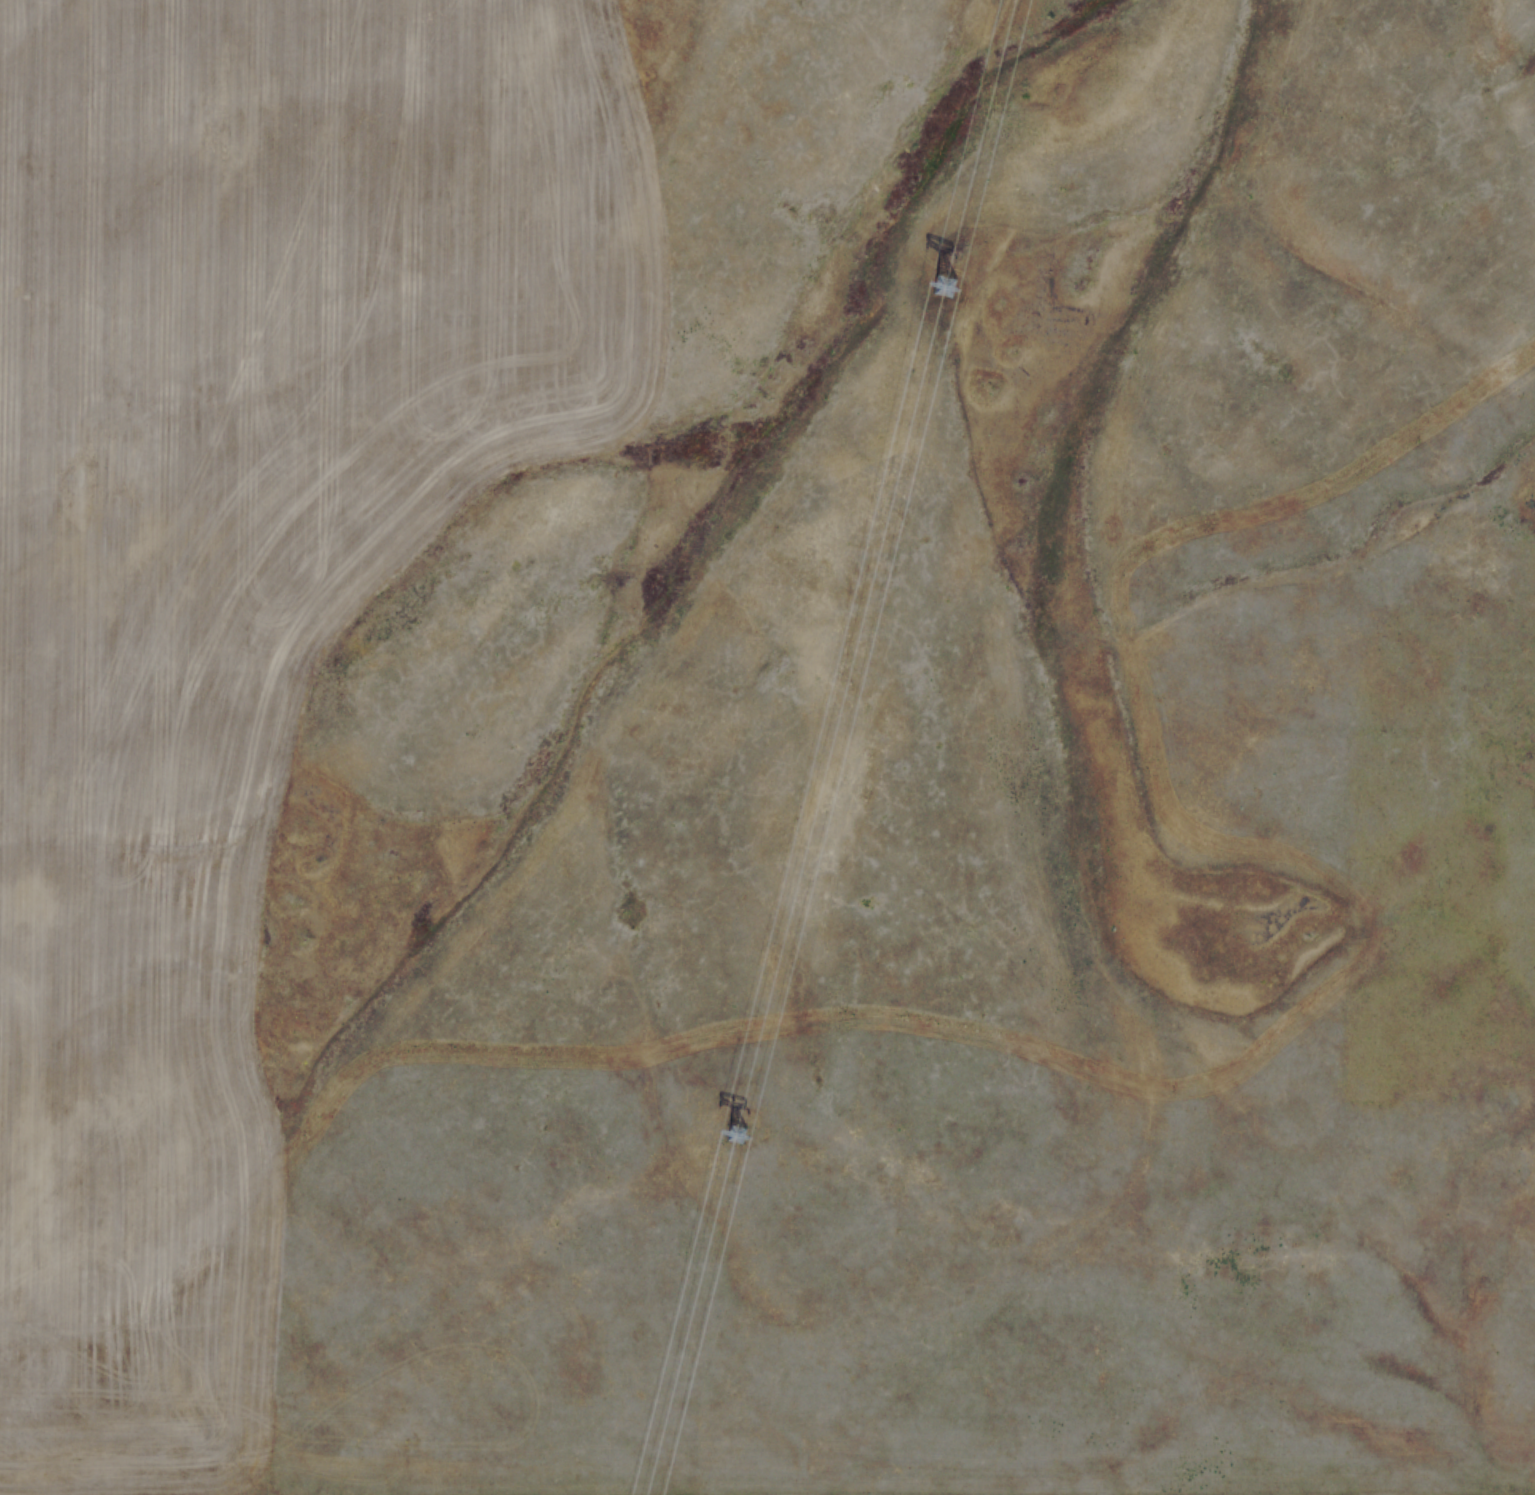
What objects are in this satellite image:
power tower: (949, 277)
power tower: (747, 1130)

